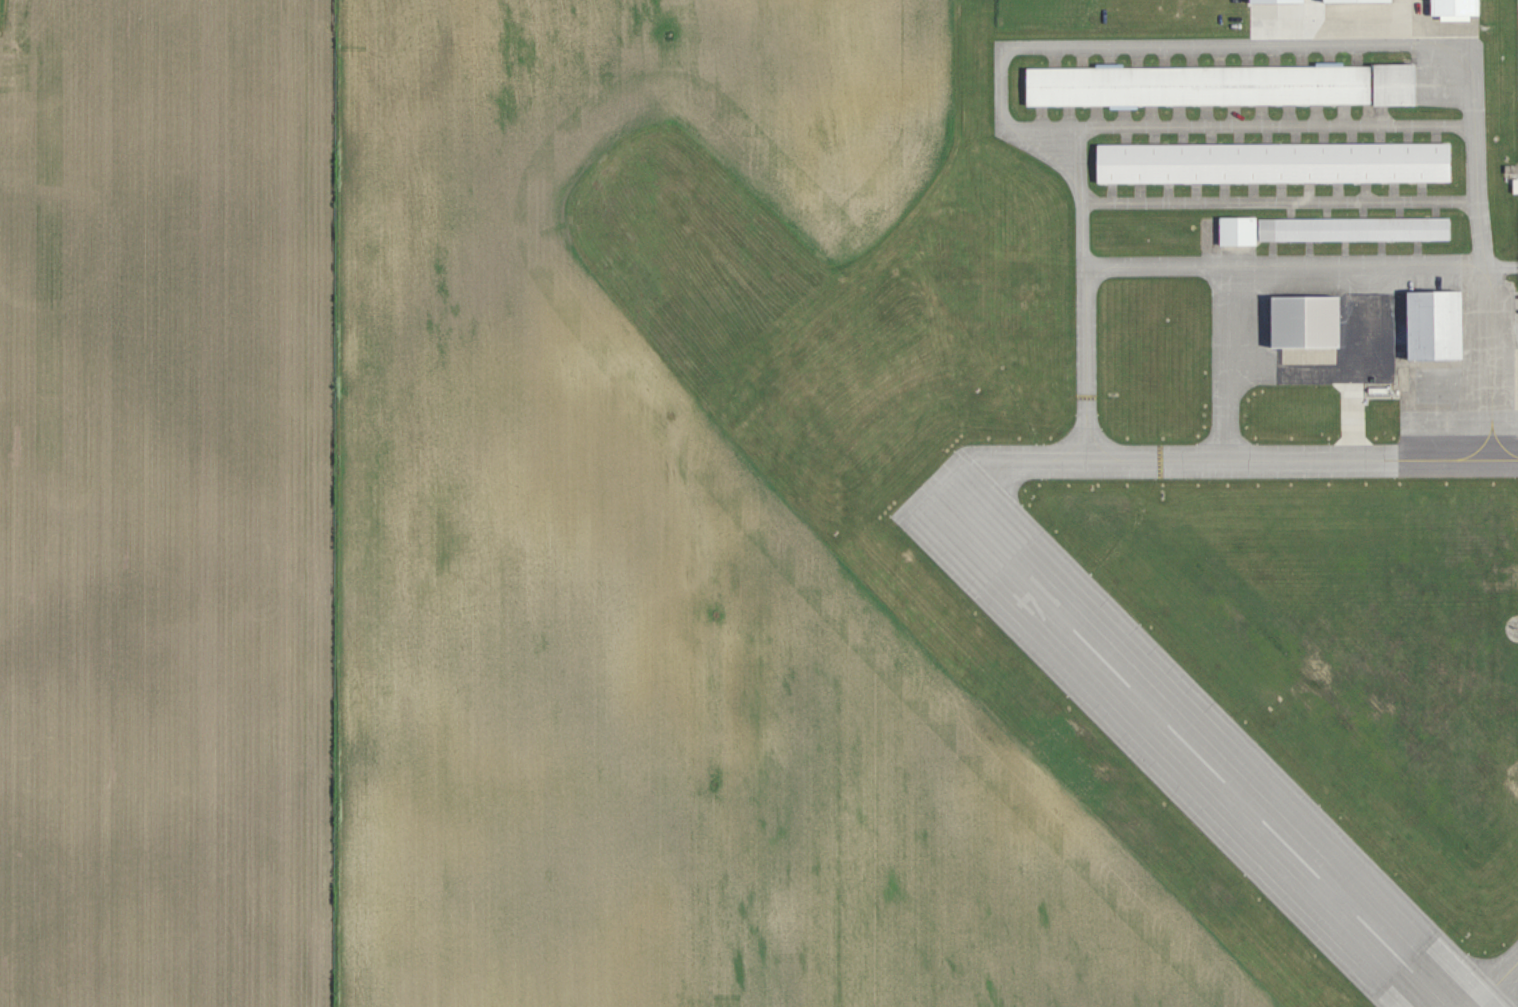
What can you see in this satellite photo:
building: (1282, 1)
building: (1366, 1)
building: (1460, 7)
airport taxiway: (1237, 46)
airport taxiway: (1302, 55)
airport taxiway: (1329, 55)
airport taxiway: (1357, 55)
airport taxiway: (1164, 56)
airport taxiway: (1191, 56)
airport taxiway: (1218, 56)
airport taxiway: (1248, 56)
airport taxiway: (1274, 56)
airport taxiway: (1053, 57)
airport taxiway: (1082, 57)
airport taxiway: (1108, 57)
airport taxiway: (1136, 57)
airport taxiway: (1474, 84)
airport hangar: (1396, 85)
building: (1396, 85)
airport hangar: (1199, 86)
building: (1199, 86)
airport taxiway: (1367, 114)
airport taxiway: (1289, 115)
airport taxiway: (1316, 115)
airport taxiway: (1343, 115)
airport taxiway: (1383, 115)
airport taxiway: (1068, 116)
airport taxiway: (1095, 116)
airport taxiway: (1123, 116)
airport taxiway: (1150, 116)
airport taxiway: (1178, 116)
airport taxiway: (1205, 116)
airport taxiway: (1233, 116)
airport taxiway: (1260, 116)
airport taxiway: (1041, 117)
airport taxiway: (1277, 125)
airport taxiway: (1042, 126)
airport taxiway: (1010, 129)
airport taxiway: (1295, 135)
airport taxiway: (1323, 135)
airport taxiway: (1351, 135)
airport taxiway: (1378, 135)
airport taxiway: (1407, 135)
airport taxiway: (1436, 135)
airport taxiway: (1125, 136)
airport taxiway: (1153, 136)
airport taxiway: (1182, 136)
airport taxiway: (1210, 136)
airport taxiway: (1238, 136)
airport taxiway: (1266, 136)
airport hangar: (1276, 163)
building: (1276, 163)
building: (1516, 185)
airport taxiway: (1281, 191)
airport taxiway: (1309, 191)
airport taxiway: (1337, 191)
airport taxiway: (1364, 191)
airport taxiway: (1393, 191)
airport taxiway: (1421, 191)
airport taxiway: (1140, 192)
airport taxiway: (1168, 192)
airport taxiway: (1196, 192)
airport taxiway: (1224, 192)
airport taxiway: (1252, 192)
airport taxiway: (1112, 193)
airport taxiway: (1316, 201)
airport taxiway: (1326, 209)
airport taxiway: (1362, 209)
airport taxiway: (1399, 209)
airport taxiway: (1435, 209)
airport taxiway: (1290, 210)
airport hangar: (1356, 229)
building: (1356, 229)
airport hangar: (1239, 231)
building: (1239, 231)
airport apron: (1217, 240)
airport taxiway: (1344, 252)
airport taxiway: (1381, 252)
airport taxiway: (1417, 252)
airport taxiway: (1272, 253)
airport taxiway: (1308, 253)
airport taxiway: (1313, 264)
airport taxiway: (1083, 294)
airport hangar: (1308, 322)
building: (1308, 322)
airport hangar: (1437, 326)
building: (1437, 326)
airport taxiway: (1224, 363)
airport taxiway: (1312, 370)
airport apron: (1465, 398)
airport taxiway: (1458, 459)
airport taxiway: (1165, 462)
airport: (928, 503)
airport runway: (1191, 749)
airport taxiway: (1495, 985)

